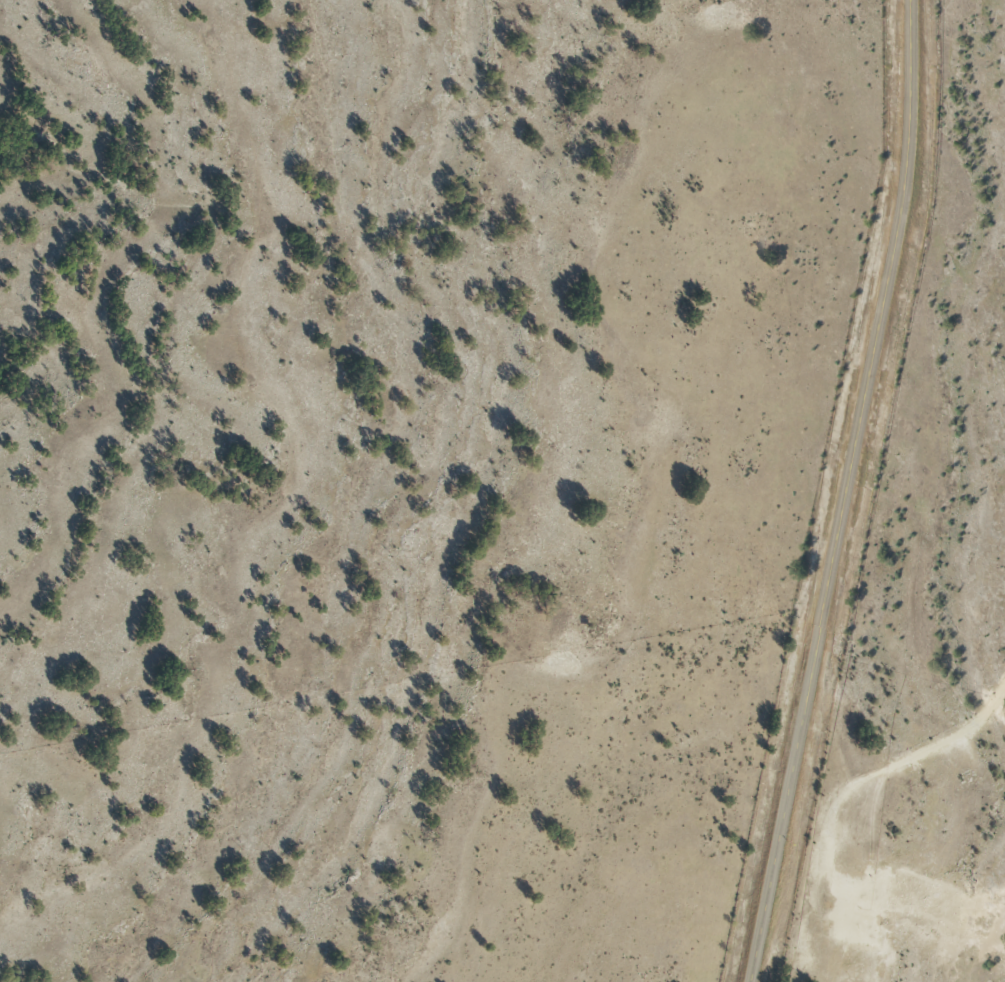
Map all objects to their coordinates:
road: (846, 492)

